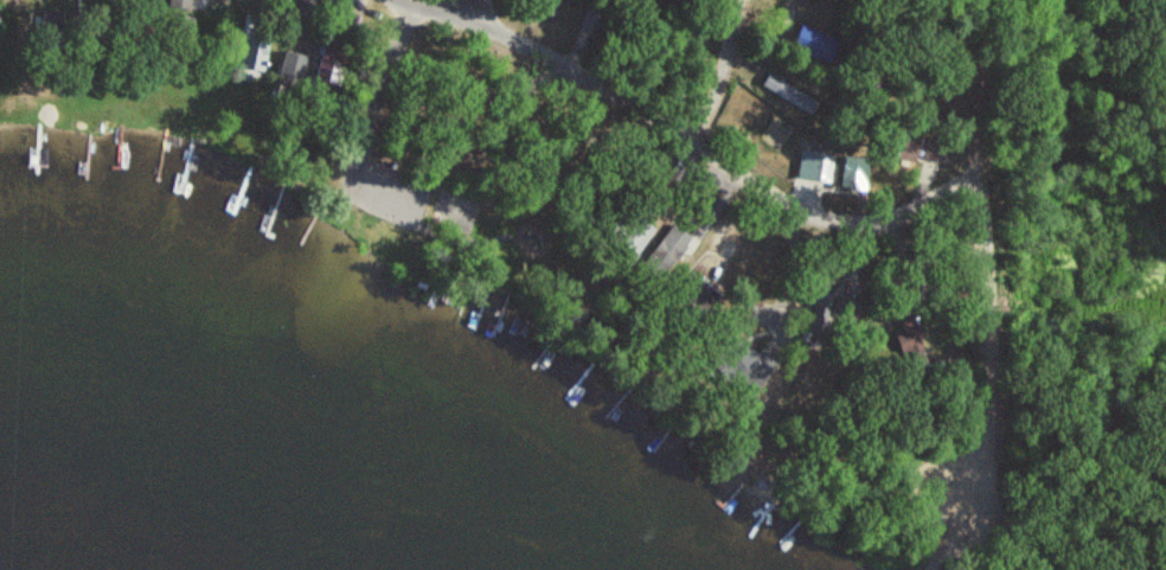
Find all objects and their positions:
building: (179, 5)
road: (472, 7)
building: (175, 38)
road: (942, 57)
building: (250, 58)
building: (291, 69)
road: (723, 70)
road: (377, 94)
building: (787, 94)
road: (645, 110)
building: (903, 148)
park: (472, 155)
building: (814, 167)
road: (967, 167)
building: (853, 173)
parking lot: (412, 191)
building: (668, 249)
building: (820, 310)
building: (755, 366)
road: (987, 428)
road: (1010, 540)
road: (938, 553)

